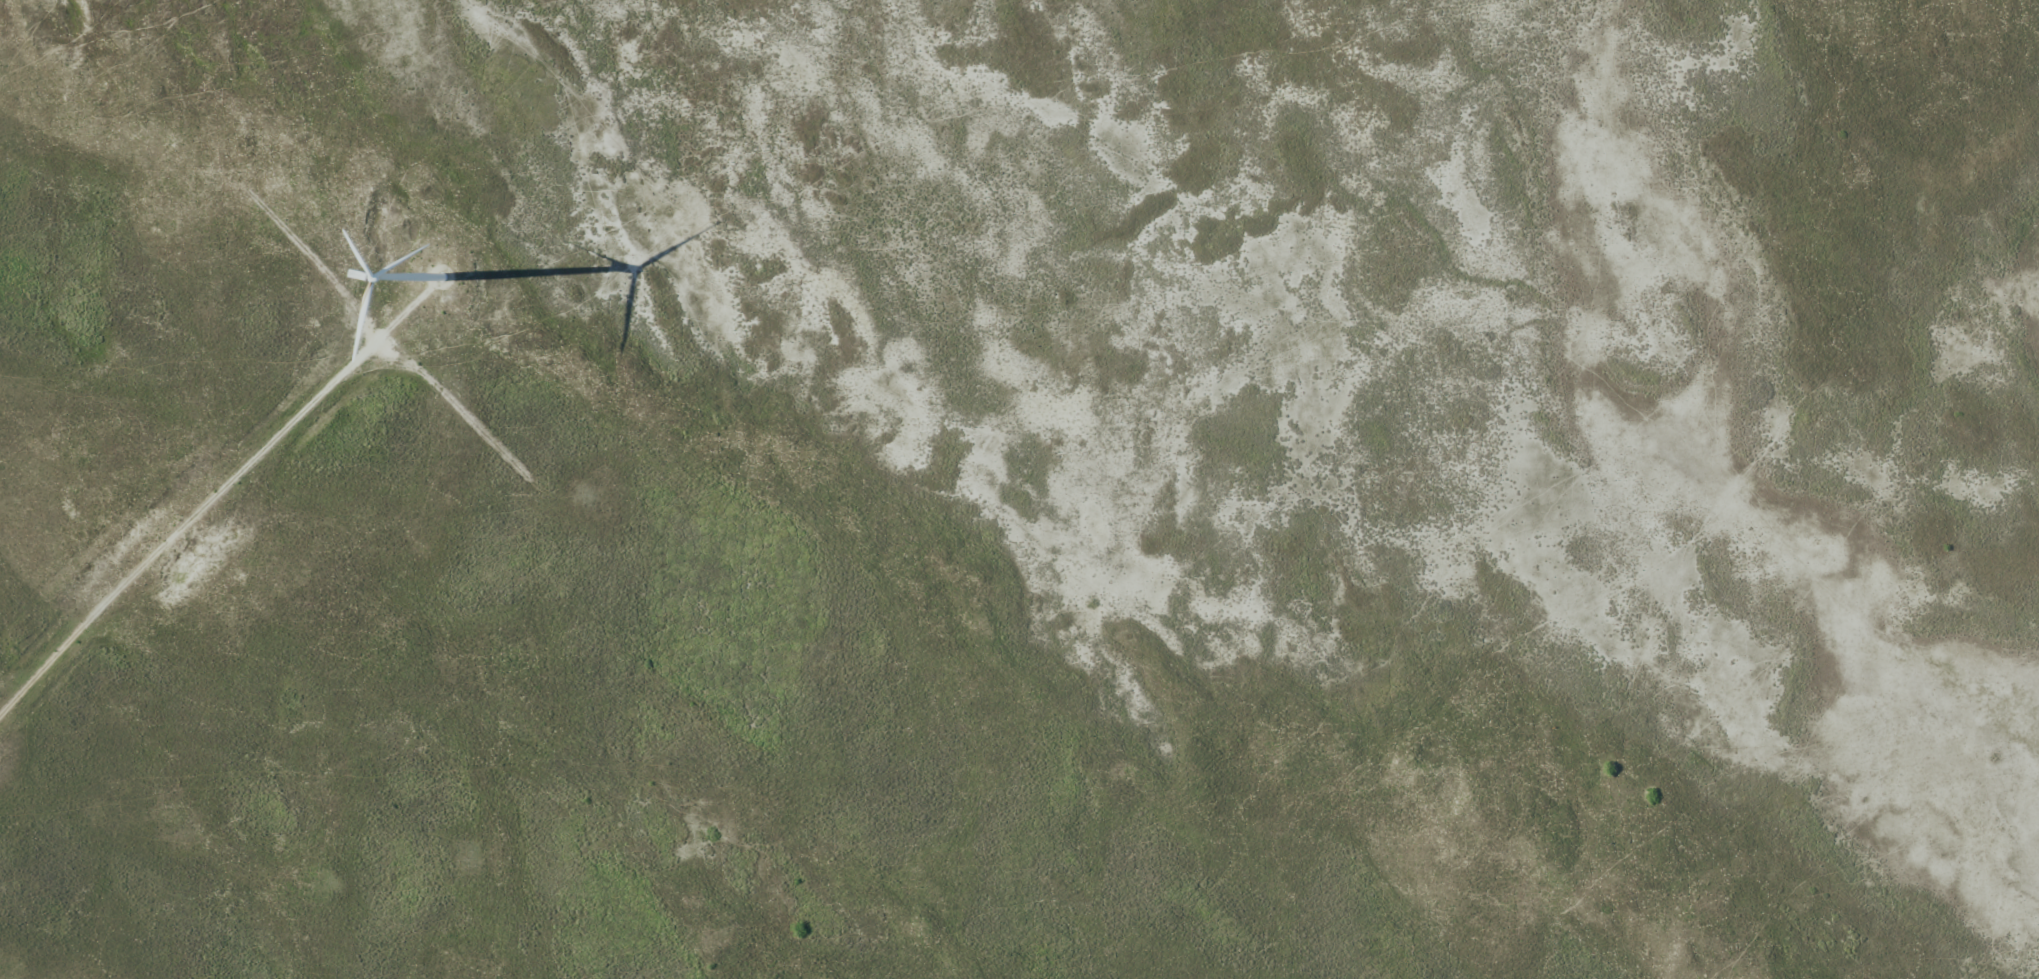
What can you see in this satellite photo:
wind turbine: (434, 285)

